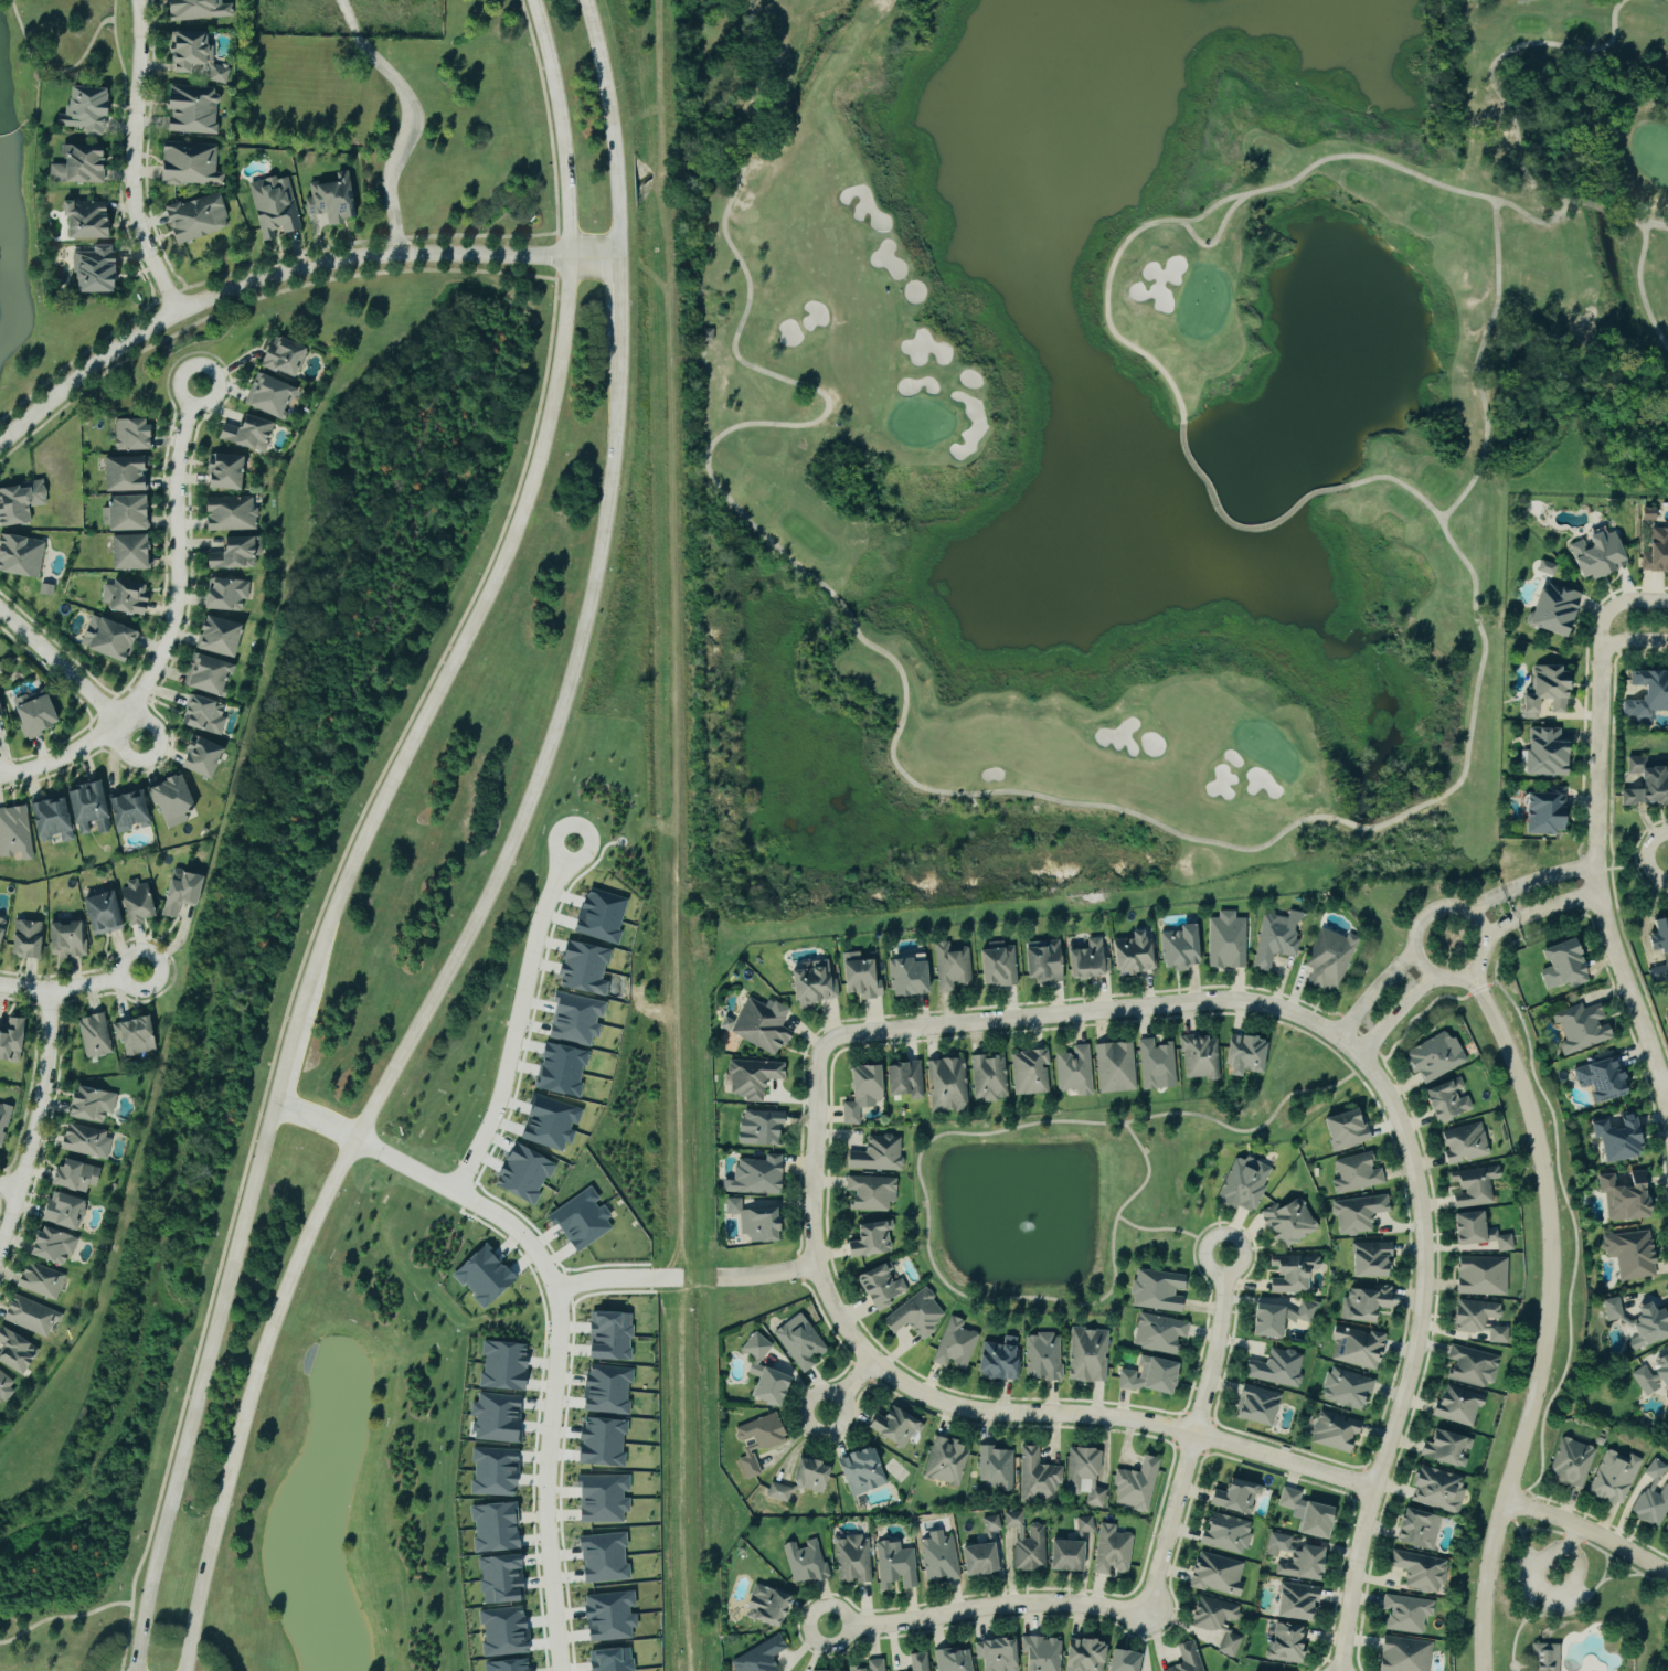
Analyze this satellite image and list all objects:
building: (200, 10)
building: (199, 57)
road: (51, 71)
building: (89, 109)
building: (194, 110)
road: (545, 114)
road: (411, 119)
road: (612, 128)
road: (135, 160)
building: (193, 163)
building: (82, 164)
building: (333, 200)
building: (275, 206)
building: (199, 217)
building: (92, 220)
road: (360, 242)
building: (98, 269)
road: (284, 273)
road: (619, 298)
building: (286, 356)
building: (272, 395)
park: (1138, 433)
building: (251, 434)
building: (136, 435)
building: (227, 472)
building: (129, 475)
building: (22, 502)
building: (131, 513)
building: (232, 514)
building: (1645, 514)
building: (108, 517)
building: (1655, 552)
building: (135, 553)
building: (237, 554)
building: (1593, 554)
building: (21, 556)
building: (1544, 568)
building: (47, 590)
building: (229, 595)
building: (127, 598)
road: (1614, 607)
building: (1550, 610)
road: (174, 628)
building: (224, 637)
building: (110, 639)
road: (1630, 641)
building: (210, 675)
road: (72, 677)
building: (1543, 692)
building: (1646, 694)
building: (0, 711)
building: (38, 713)
building: (205, 715)
building: (1541, 752)
building: (204, 756)
building: (1645, 784)
building: (174, 801)
building: (92, 808)
building: (1542, 811)
building: (54, 819)
road: (369, 829)
building: (15, 833)
road: (673, 835)
road: (1530, 883)
road: (1600, 886)
building: (185, 892)
building: (140, 903)
road: (1432, 909)
road: (1541, 911)
building: (107, 914)
building: (2, 934)
building: (1658, 935)
road: (310, 938)
building: (1275, 938)
building: (29, 940)
building: (68, 940)
building: (1224, 940)
building: (1176, 946)
building: (1129, 954)
building: (1327, 958)
building: (1084, 959)
building: (1039, 961)
building: (996, 965)
building: (949, 966)
building: (1560, 966)
building: (903, 975)
building: (858, 976)
road: (72, 990)
road: (1377, 993)
road: (427, 1010)
road: (1085, 1013)
road: (1398, 1014)
road: (517, 1020)
building: (757, 1024)
building: (1580, 1026)
building: (95, 1036)
building: (137, 1036)
building: (13, 1042)
building: (1241, 1053)
building: (1198, 1056)
building: (1432, 1056)
building: (1154, 1064)
building: (1113, 1066)
building: (1027, 1071)
building: (987, 1076)
building: (748, 1077)
building: (1597, 1077)
building: (901, 1078)
building: (945, 1084)
building: (858, 1090)
road: (1667, 1090)
building: (1444, 1098)
building: (94, 1105)
building: (3, 1122)
road: (38, 1124)
building: (757, 1126)
building: (1342, 1128)
building: (1614, 1137)
building: (86, 1141)
building: (1462, 1143)
building: (875, 1153)
building: (1354, 1173)
building: (527, 1175)
building: (753, 1175)
building: (77, 1177)
road: (426, 1181)
building: (1241, 1183)
building: (1472, 1185)
road: (10, 1186)
building: (869, 1192)
building: (1622, 1194)
building: (65, 1212)
building: (1356, 1214)
building: (580, 1218)
building: (751, 1220)
building: (1287, 1222)
building: (1475, 1231)
building: (868, 1238)
building: (56, 1247)
building: (1628, 1254)
building: (1368, 1259)
road: (1205, 1263)
building: (1289, 1273)
road: (767, 1274)
building: (480, 1275)
building: (1479, 1275)
road: (616, 1279)
building: (42, 1281)
building: (878, 1285)
building: (1155, 1290)
building: (1363, 1302)
building: (914, 1313)
road: (1550, 1317)
building: (1275, 1318)
building: (1476, 1319)
building: (1157, 1333)
building: (606, 1334)
building: (797, 1341)
building: (954, 1343)
building: (1356, 1347)
road: (1419, 1347)
building: (18, 1352)
building: (1086, 1354)
building: (1042, 1356)
building: (997, 1360)
building: (499, 1365)
building: (1469, 1365)
building: (1275, 1367)
building: (1661, 1371)
building: (762, 1373)
building: (1147, 1375)
building: (1643, 1380)
building: (6, 1387)
building: (1345, 1388)
building: (604, 1390)
road: (851, 1390)
building: (1454, 1404)
building: (1254, 1405)
road: (955, 1408)
building: (891, 1426)
building: (1334, 1430)
building: (598, 1440)
building: (754, 1441)
road: (1192, 1446)
building: (1444, 1447)
building: (945, 1461)
building: (1569, 1462)
building: (995, 1468)
building: (858, 1470)
building: (491, 1471)
building: (1084, 1473)
building: (1037, 1477)
building: (1611, 1477)
road: (545, 1479)
building: (798, 1479)
building: (1134, 1484)
building: (1434, 1489)
building: (1232, 1496)
building: (599, 1498)
building: (1649, 1499)
building: (1304, 1513)
building: (990, 1523)
building: (492, 1526)
building: (1667, 1528)
building: (1414, 1529)
road: (1589, 1530)
building: (1223, 1532)
building: (1024, 1542)
building: (1067, 1547)
building: (1111, 1550)
building: (604, 1556)
building: (937, 1557)
building: (1294, 1557)
building: (851, 1558)
building: (975, 1558)
building: (805, 1561)
building: (894, 1565)
building: (1416, 1571)
building: (1214, 1574)
building: (497, 1578)
building: (1293, 1601)
building: (763, 1605)
park: (1573, 1607)
road: (989, 1609)
road: (1574, 1610)
building: (1210, 1613)
building: (1403, 1613)
road: (64, 1616)
building: (606, 1616)
road: (1530, 1619)
building: (501, 1631)
road: (1513, 1641)
building: (1283, 1642)
building: (1228, 1645)
building: (1039, 1653)
building: (995, 1654)
building: (1081, 1654)
building: (1401, 1654)
building: (756, 1657)
building: (1542, 1657)
building: (1186, 1658)
building: (607, 1659)
building: (952, 1659)
building: (1119, 1660)
building: (917, 1661)
road: (1517, 1663)
building: (503, 1664)
building: (871, 1665)
road: (1510, 1668)
road: (1524, 1668)
road: (1517, 1669)
building: (811, 1670)
building: (1268, 1670)

